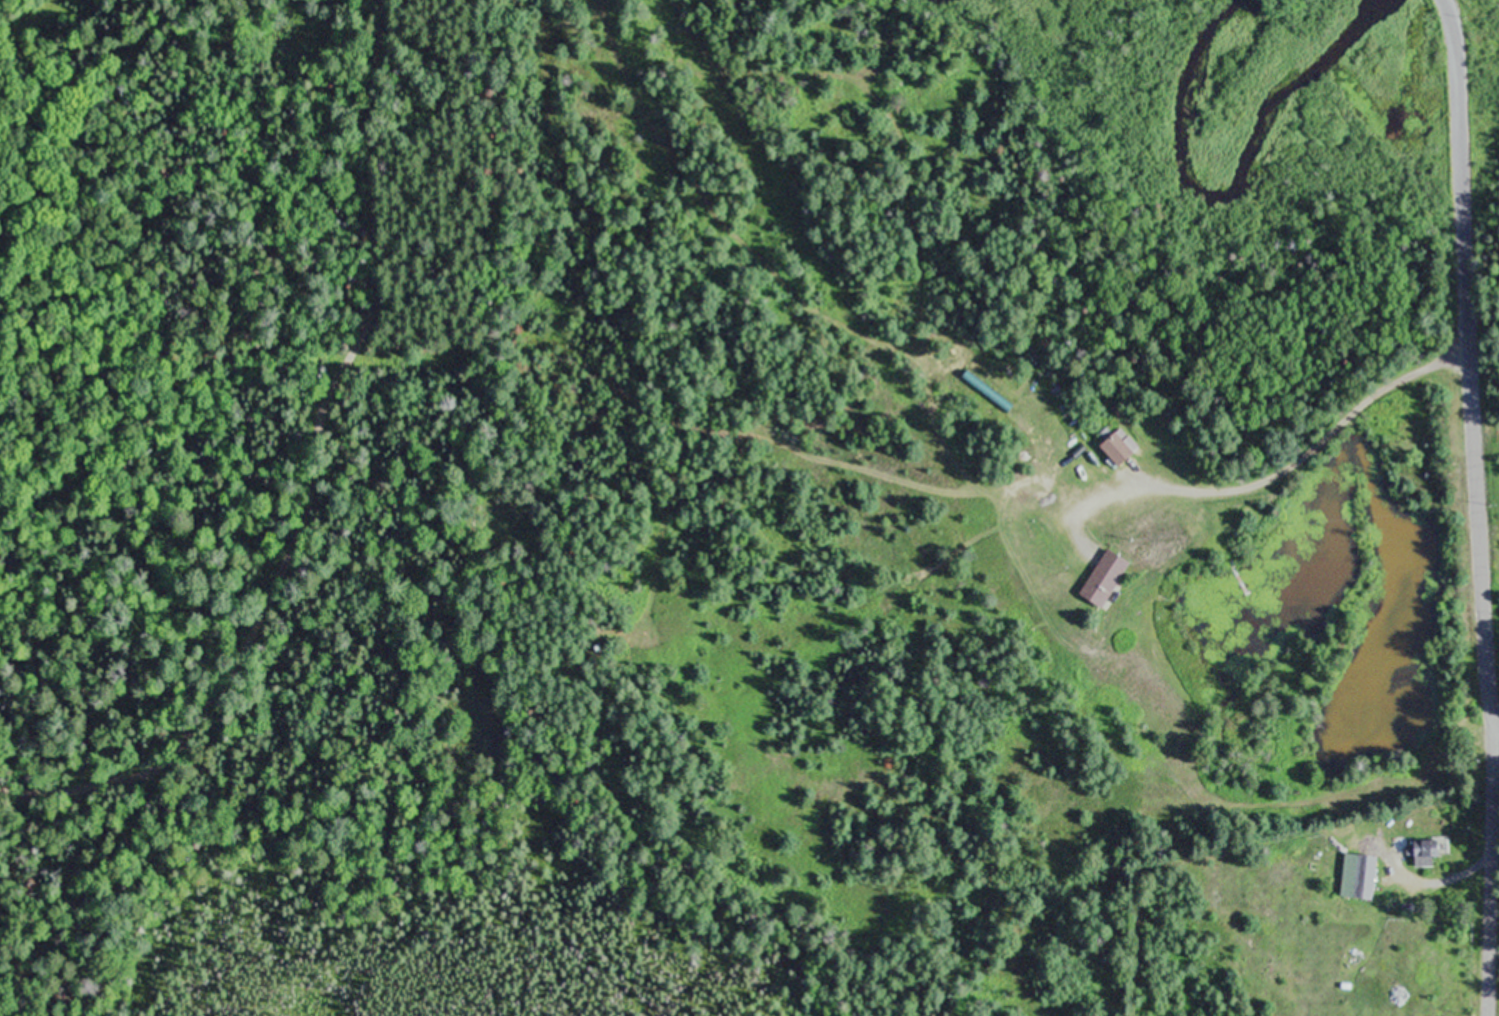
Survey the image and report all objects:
road: (1469, 362)
building: (1120, 448)
road: (317, 469)
road: (916, 476)
building: (1108, 578)
building: (1428, 854)
building: (1360, 877)
road: (1492, 877)

